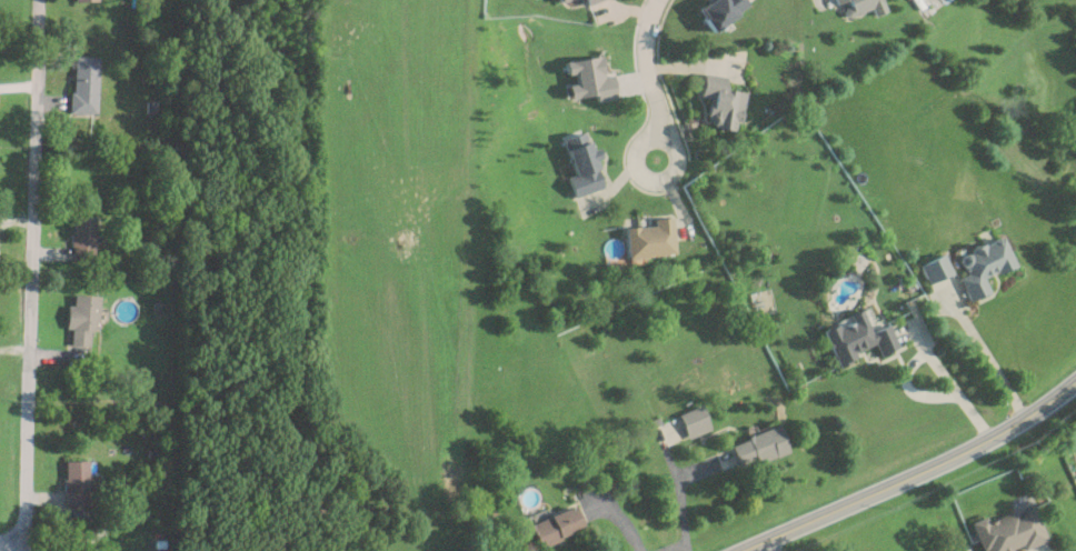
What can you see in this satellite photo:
building: (558, 0)
building: (588, 1)
building: (854, 6)
road: (649, 68)
building: (86, 82)
building: (718, 102)
road: (671, 144)
building: (578, 167)
building: (83, 236)
building: (646, 238)
building: (978, 262)
building: (931, 269)
road: (30, 275)
building: (83, 318)
building: (853, 337)
road: (986, 359)
road: (952, 384)
building: (689, 421)
building: (754, 447)
road: (914, 475)
building: (79, 482)
road: (677, 501)
road: (626, 522)
building: (554, 527)
building: (1007, 531)
road: (12, 544)

